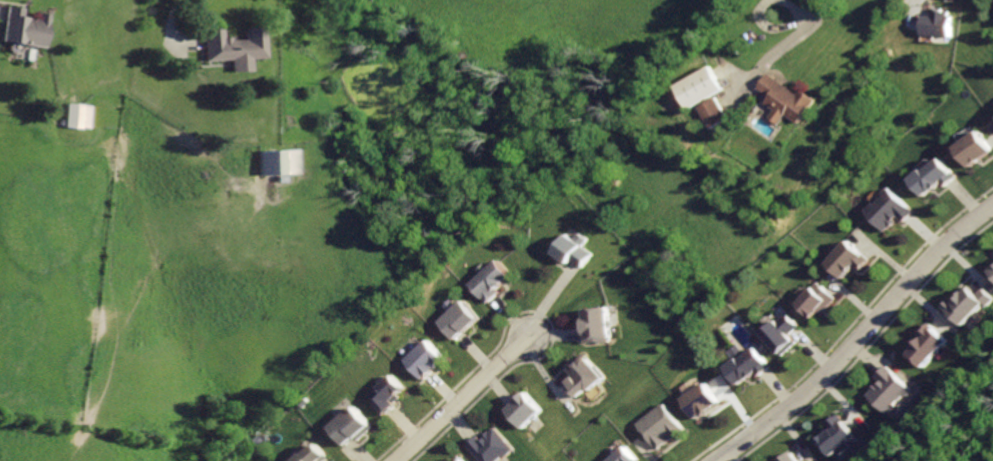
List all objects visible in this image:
road: (1, 12)
building: (935, 23)
road: (789, 25)
building: (22, 27)
road: (171, 33)
building: (233, 48)
road: (772, 52)
road: (757, 80)
building: (697, 86)
building: (783, 100)
building: (76, 114)
building: (715, 117)
building: (974, 149)
building: (278, 162)
building: (934, 176)
building: (891, 211)
crop: (284, 213)
building: (573, 249)
building: (849, 259)
building: (992, 271)
building: (495, 283)
road: (550, 298)
building: (818, 300)
building: (968, 304)
building: (464, 321)
building: (598, 326)
building: (782, 336)
road: (856, 337)
building: (928, 345)
building: (426, 360)
building: (746, 366)
building: (589, 375)
building: (890, 391)
building: (386, 395)
road: (459, 398)
building: (699, 401)
building: (529, 411)
building: (347, 426)
building: (661, 426)
building: (839, 436)
building: (492, 447)
building: (311, 454)
building: (627, 455)
building: (791, 457)
building: (458, 460)

